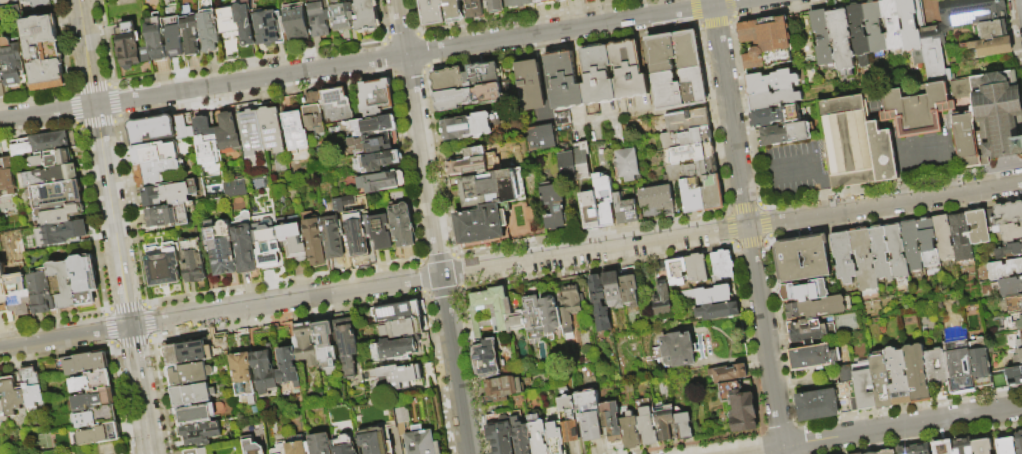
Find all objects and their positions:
building: (12, 0)
building: (584, 0)
building: (602, 0)
building: (38, 2)
building: (546, 2)
building: (518, 3)
building: (494, 6)
building: (472, 8)
building: (431, 11)
building: (452, 11)
building: (970, 12)
building: (341, 15)
building: (366, 16)
building: (319, 17)
building: (227, 20)
building: (892, 24)
building: (293, 25)
building: (909, 25)
building: (207, 27)
building: (256, 27)
building: (875, 27)
building: (993, 30)
building: (189, 32)
building: (859, 34)
building: (173, 37)
building: (155, 38)
building: (822, 38)
building: (841, 41)
building: (765, 43)
building: (129, 46)
building: (993, 47)
building: (43, 53)
building: (674, 53)
building: (933, 55)
road: (373, 60)
building: (13, 62)
building: (1, 68)
building: (629, 72)
building: (598, 77)
building: (466, 79)
building: (1, 80)
building: (565, 83)
building: (770, 83)
building: (531, 87)
building: (680, 91)
building: (373, 96)
building: (469, 98)
building: (774, 100)
building: (334, 104)
building: (917, 111)
building: (312, 113)
building: (998, 114)
building: (562, 116)
building: (775, 116)
building: (687, 123)
building: (368, 124)
building: (293, 125)
building: (184, 126)
building: (151, 129)
building: (271, 129)
building: (467, 129)
building: (250, 132)
building: (216, 134)
building: (785, 134)
building: (541, 140)
building: (687, 140)
building: (371, 143)
building: (965, 143)
building: (39, 144)
building: (855, 144)
parking lot: (927, 152)
building: (150, 153)
road: (948, 153)
building: (690, 156)
building: (51, 158)
road: (903, 160)
building: (379, 161)
building: (583, 163)
building: (475, 165)
building: (627, 167)
road: (807, 168)
building: (568, 169)
parking lot: (795, 169)
building: (156, 172)
building: (693, 172)
building: (6, 175)
building: (48, 176)
road: (754, 178)
road: (953, 180)
building: (383, 181)
building: (234, 187)
road: (907, 187)
building: (493, 192)
building: (169, 193)
building: (57, 194)
building: (0, 195)
building: (712, 195)
building: (693, 198)
building: (657, 200)
building: (605, 201)
road: (826, 204)
building: (554, 209)
building: (591, 212)
building: (626, 212)
building: (60, 214)
building: (168, 215)
building: (1008, 221)
building: (401, 225)
road: (114, 226)
road: (748, 226)
road: (433, 227)
building: (483, 227)
building: (978, 227)
building: (380, 232)
building: (63, 233)
building: (332, 237)
building: (356, 237)
building: (943, 238)
building: (961, 238)
building: (293, 240)
building: (314, 241)
building: (267, 242)
building: (927, 243)
building: (221, 247)
building: (912, 247)
building: (245, 248)
building: (896, 251)
building: (1008, 251)
building: (880, 254)
building: (843, 257)
building: (788, 260)
building: (864, 260)
building: (193, 262)
road: (511, 263)
building: (162, 265)
building: (721, 266)
building: (661, 267)
building: (696, 267)
building: (1004, 269)
building: (676, 270)
building: (85, 279)
building: (63, 284)
building: (1010, 287)
building: (41, 289)
building: (613, 289)
building: (629, 290)
building: (4, 291)
building: (803, 291)
building: (18, 294)
building: (709, 294)
building: (661, 299)
building: (599, 303)
building: (1020, 305)
building: (570, 306)
building: (816, 307)
building: (489, 308)
building: (398, 311)
building: (716, 311)
building: (550, 315)
building: (534, 320)
building: (516, 321)
building: (404, 327)
building: (1014, 327)
building: (805, 331)
building: (326, 343)
building: (976, 343)
building: (306, 344)
building: (347, 344)
building: (402, 350)
building: (677, 350)
building: (1021, 350)
building: (187, 353)
building: (486, 357)
building: (812, 357)
building: (84, 365)
building: (980, 365)
building: (289, 367)
building: (930, 367)
building: (961, 370)
building: (265, 372)
building: (728, 373)
building: (188, 374)
building: (917, 374)
building: (1010, 375)
building: (244, 376)
building: (405, 376)
building: (898, 376)
building: (881, 379)
building: (93, 383)
building: (503, 387)
building: (856, 388)
building: (33, 389)
building: (193, 395)
building: (13, 398)
building: (97, 401)
building: (2, 405)
building: (817, 405)
building: (739, 406)
building: (199, 414)
building: (588, 415)
building: (99, 418)
building: (568, 419)
building: (611, 421)
building: (665, 423)
building: (684, 425)
building: (648, 426)
road: (902, 427)
building: (630, 431)
building: (211, 432)
building: (500, 433)
building: (537, 434)
building: (101, 436)
building: (416, 436)
building: (521, 437)
building: (554, 438)
building: (376, 442)
building: (1018, 443)
building: (321, 444)
building: (299, 445)
building: (345, 445)
building: (982, 446)
building: (1005, 446)
building: (254, 447)
building: (941, 447)
building: (962, 447)
building: (282, 449)
building: (921, 449)
road: (758, 450)
building: (905, 450)
building: (190, 451)
building: (203, 451)
building: (887, 452)
building: (859, 453)

